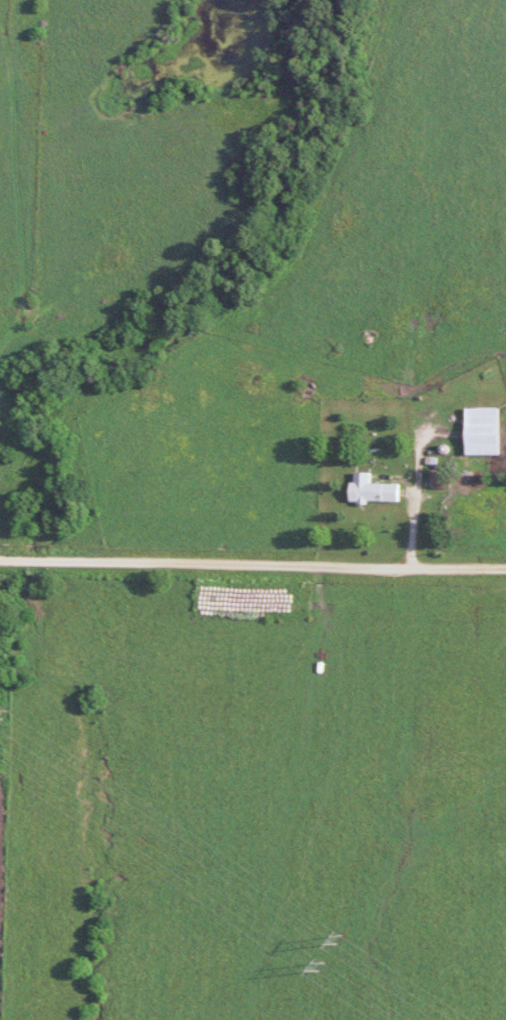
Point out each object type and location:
building: (479, 430)
building: (436, 480)
building: (368, 489)
road: (252, 564)
power tower: (324, 937)
power tower: (314, 968)

